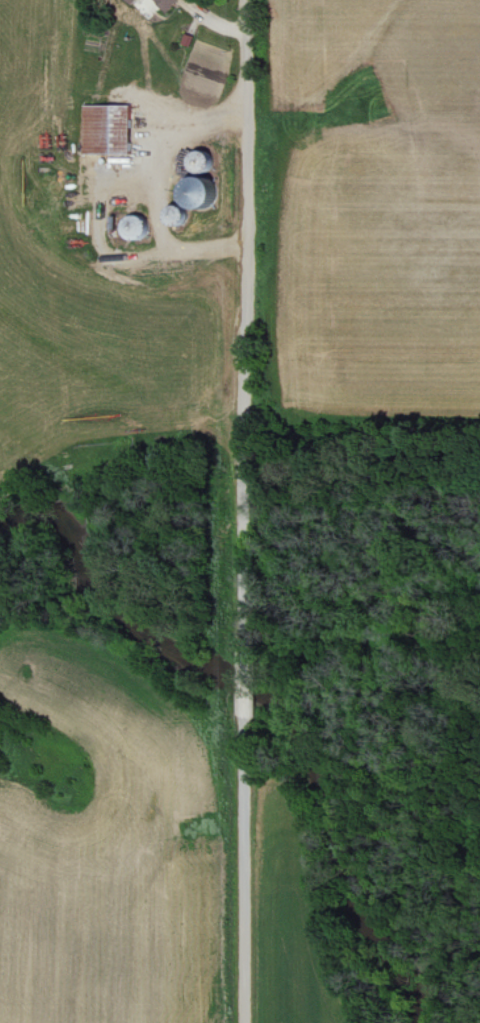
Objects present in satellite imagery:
building: (134, 2)
building: (169, 4)
building: (109, 131)
building: (200, 196)
road: (245, 323)
road: (246, 697)
road: (248, 885)

